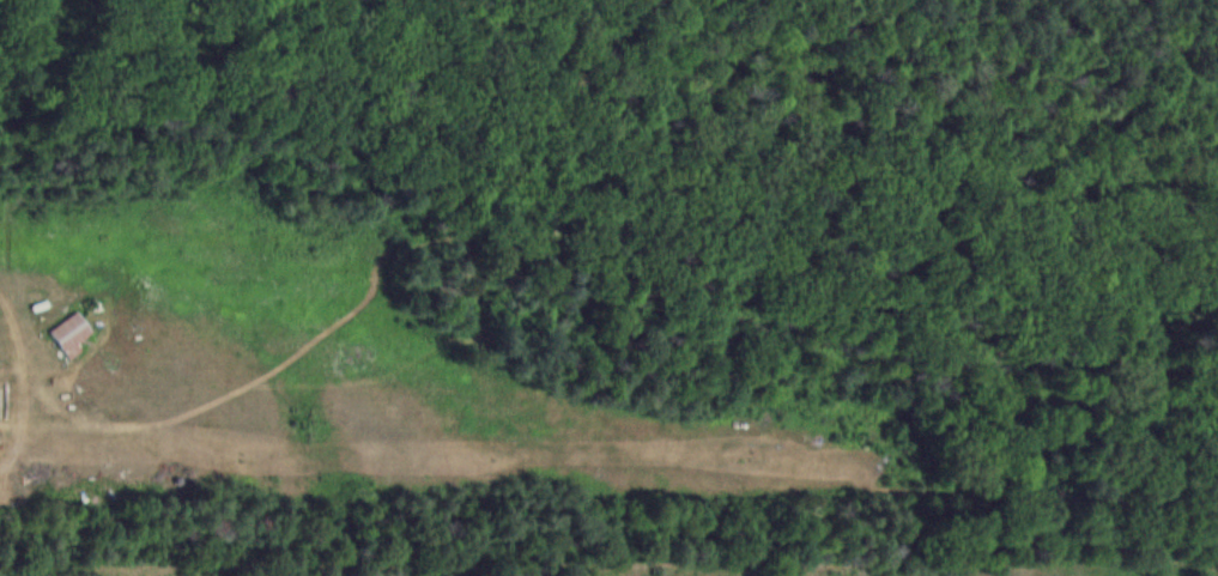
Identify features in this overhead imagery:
building: (73, 334)

